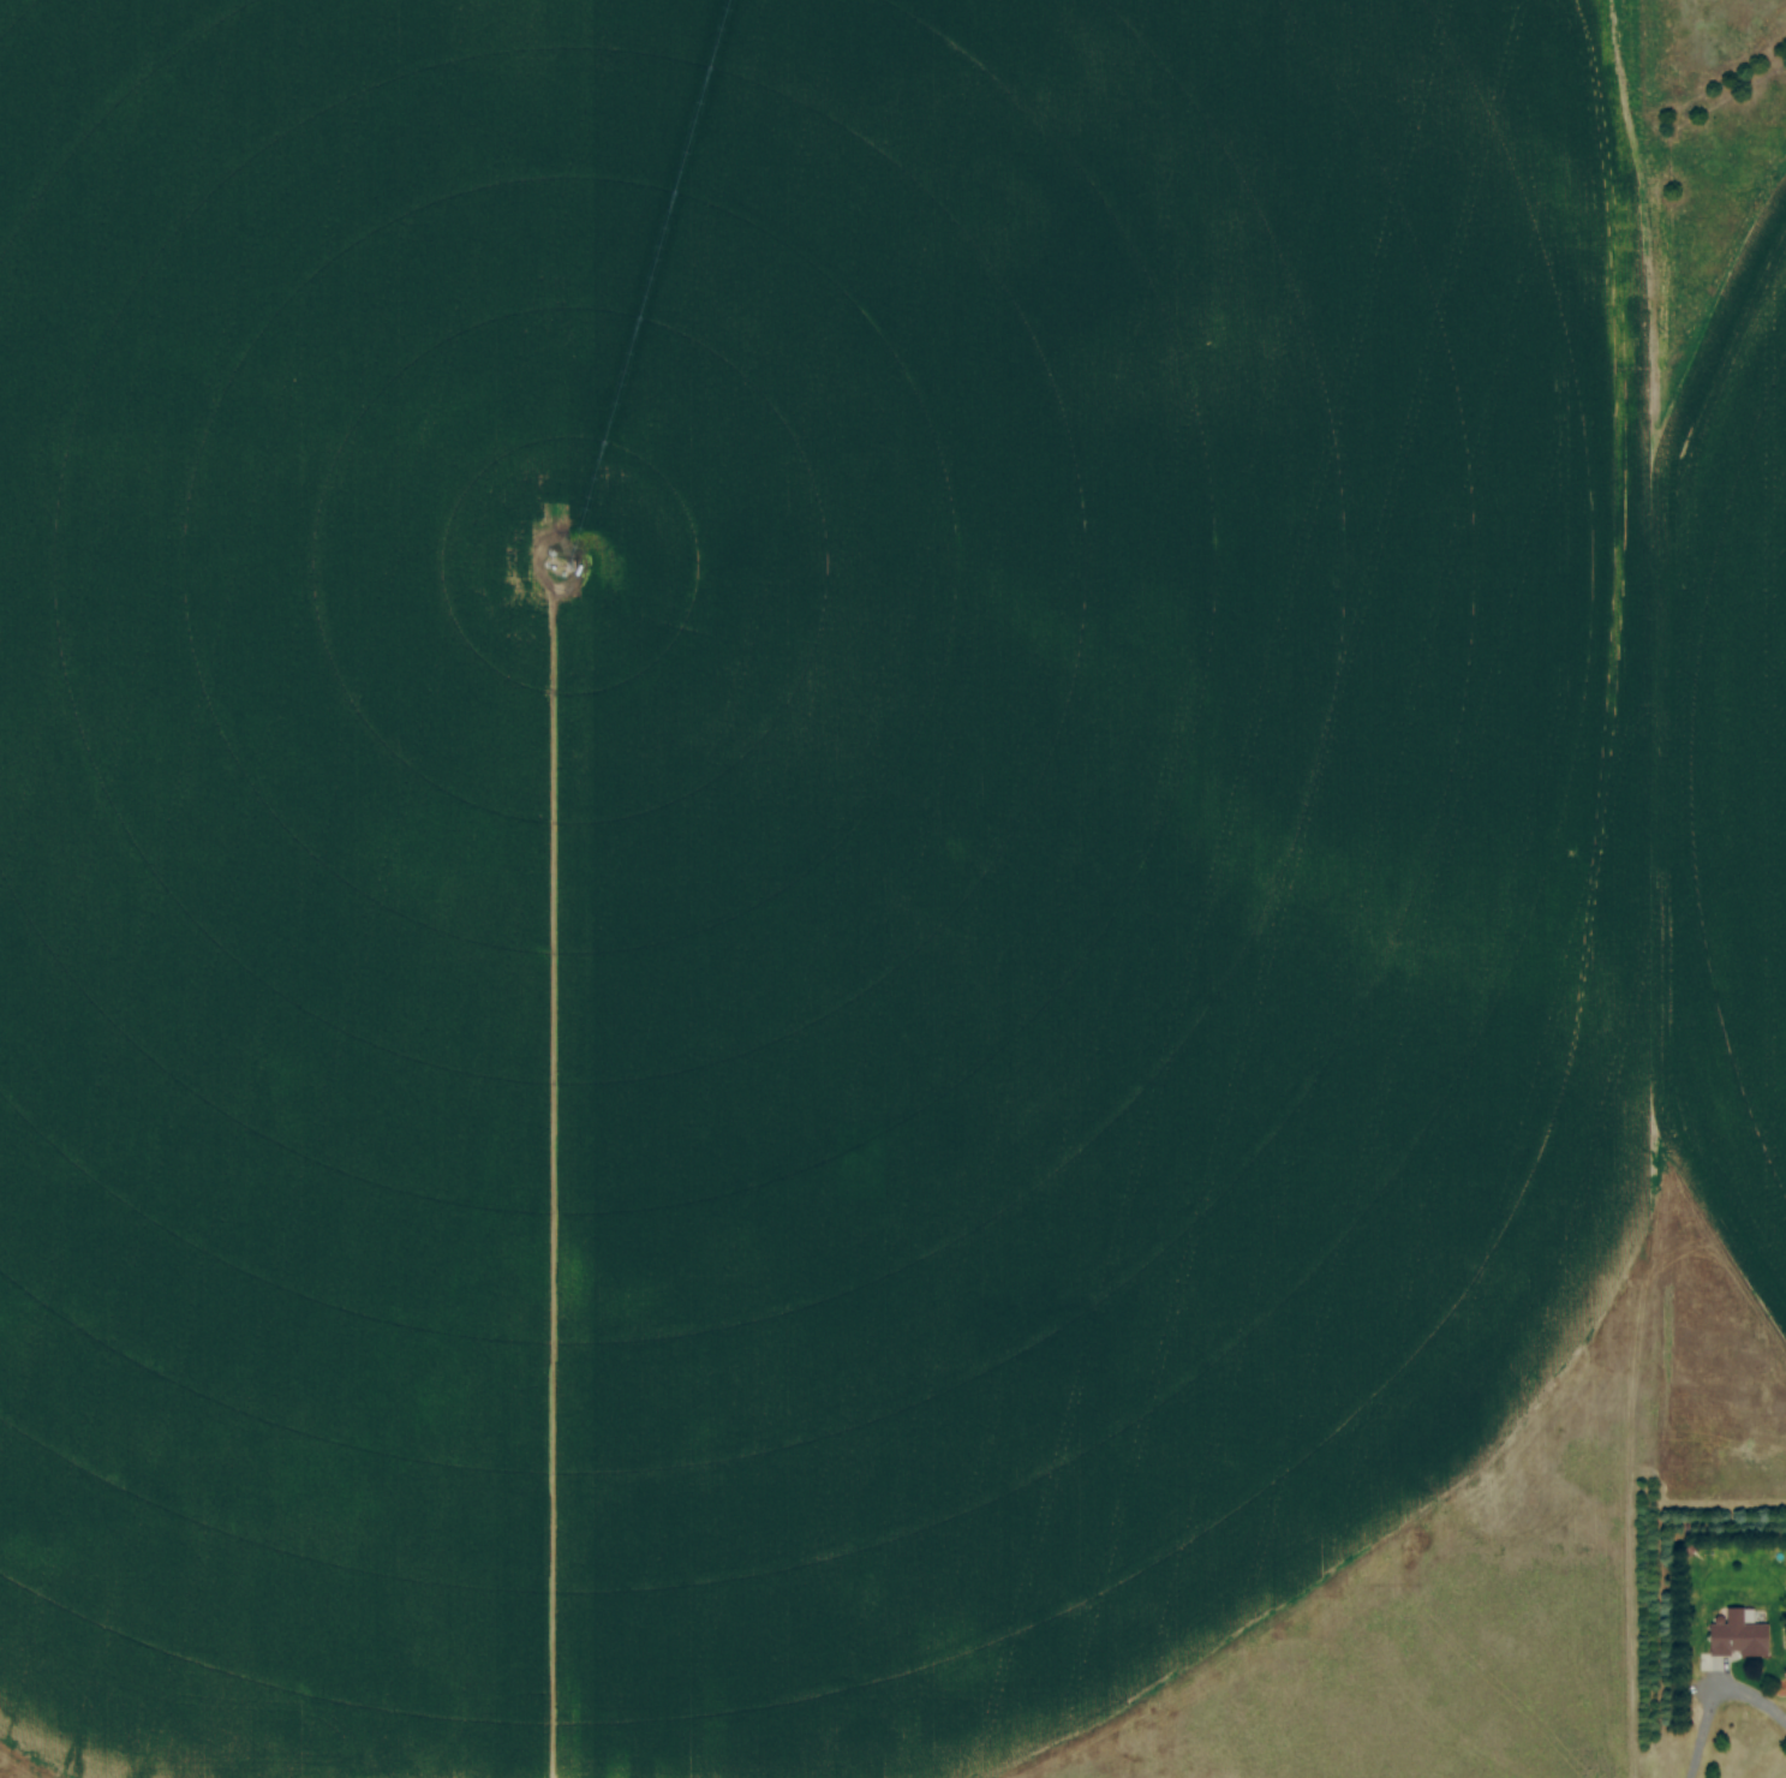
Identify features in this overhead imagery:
building: (1746, 1641)

